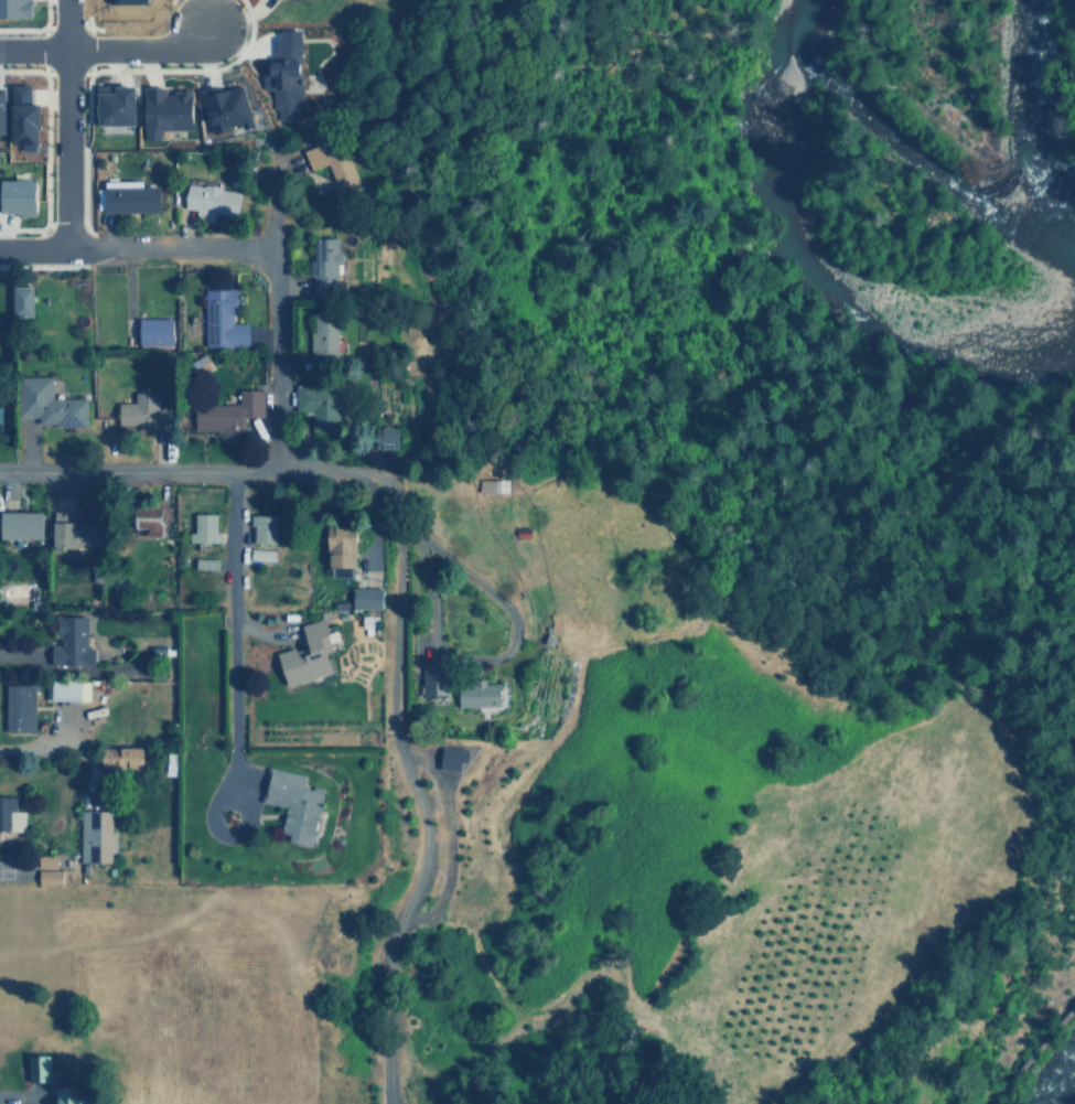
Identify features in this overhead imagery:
building: (137, 0)
building: (17, 7)
road: (63, 26)
road: (121, 29)
road: (34, 30)
road: (105, 49)
road: (87, 50)
road: (40, 51)
building: (287, 62)
road: (149, 69)
building: (125, 98)
building: (227, 98)
building: (173, 101)
building: (1, 111)
building: (21, 114)
road: (64, 122)
road: (80, 147)
road: (41, 148)
building: (343, 176)
building: (19, 194)
building: (141, 194)
building: (222, 196)
road: (46, 224)
road: (136, 245)
road: (42, 265)
building: (323, 267)
river: (802, 278)
building: (20, 302)
building: (219, 318)
road: (277, 330)
building: (153, 331)
building: (322, 332)
building: (321, 400)
building: (50, 406)
building: (226, 407)
building: (142, 411)
building: (1, 415)
building: (387, 438)
road: (185, 470)
building: (490, 485)
building: (144, 517)
building: (20, 524)
building: (203, 526)
building: (262, 527)
building: (69, 530)
building: (341, 549)
building: (264, 554)
building: (365, 598)
road: (232, 635)
building: (74, 640)
building: (310, 655)
building: (427, 678)
building: (62, 687)
building: (476, 693)
building: (18, 706)
building: (455, 757)
building: (125, 758)
building: (291, 798)
building: (10, 819)
building: (96, 834)
building: (51, 876)
road: (1035, 1053)
road: (1035, 1053)
building: (41, 1068)
building: (71, 1096)

